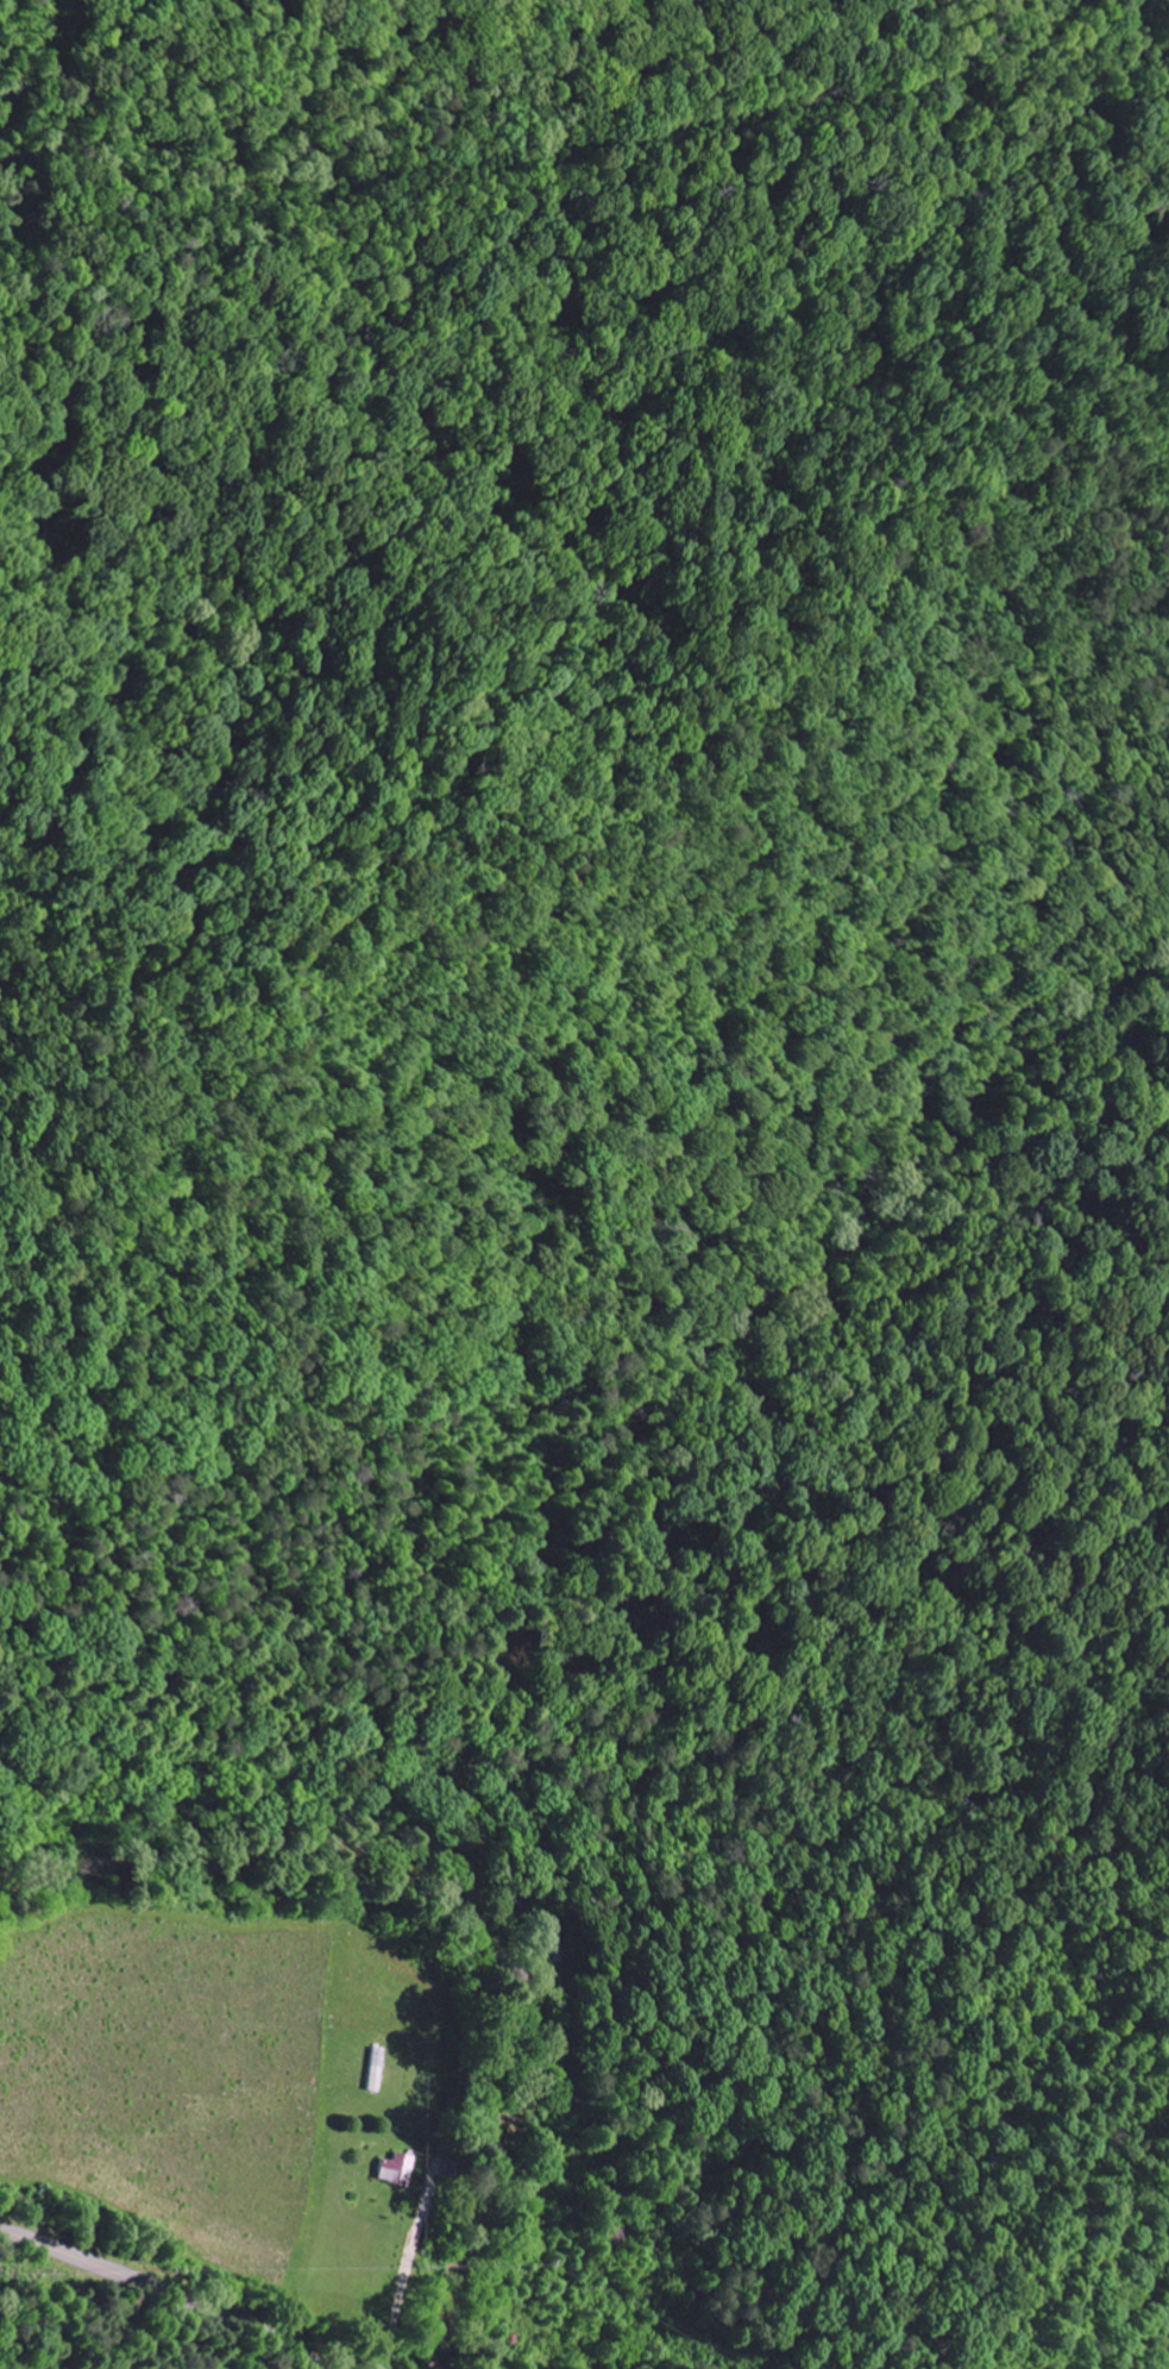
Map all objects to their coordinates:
road: (454, 1813)
building: (396, 2169)
road: (163, 2295)
road: (534, 2338)

